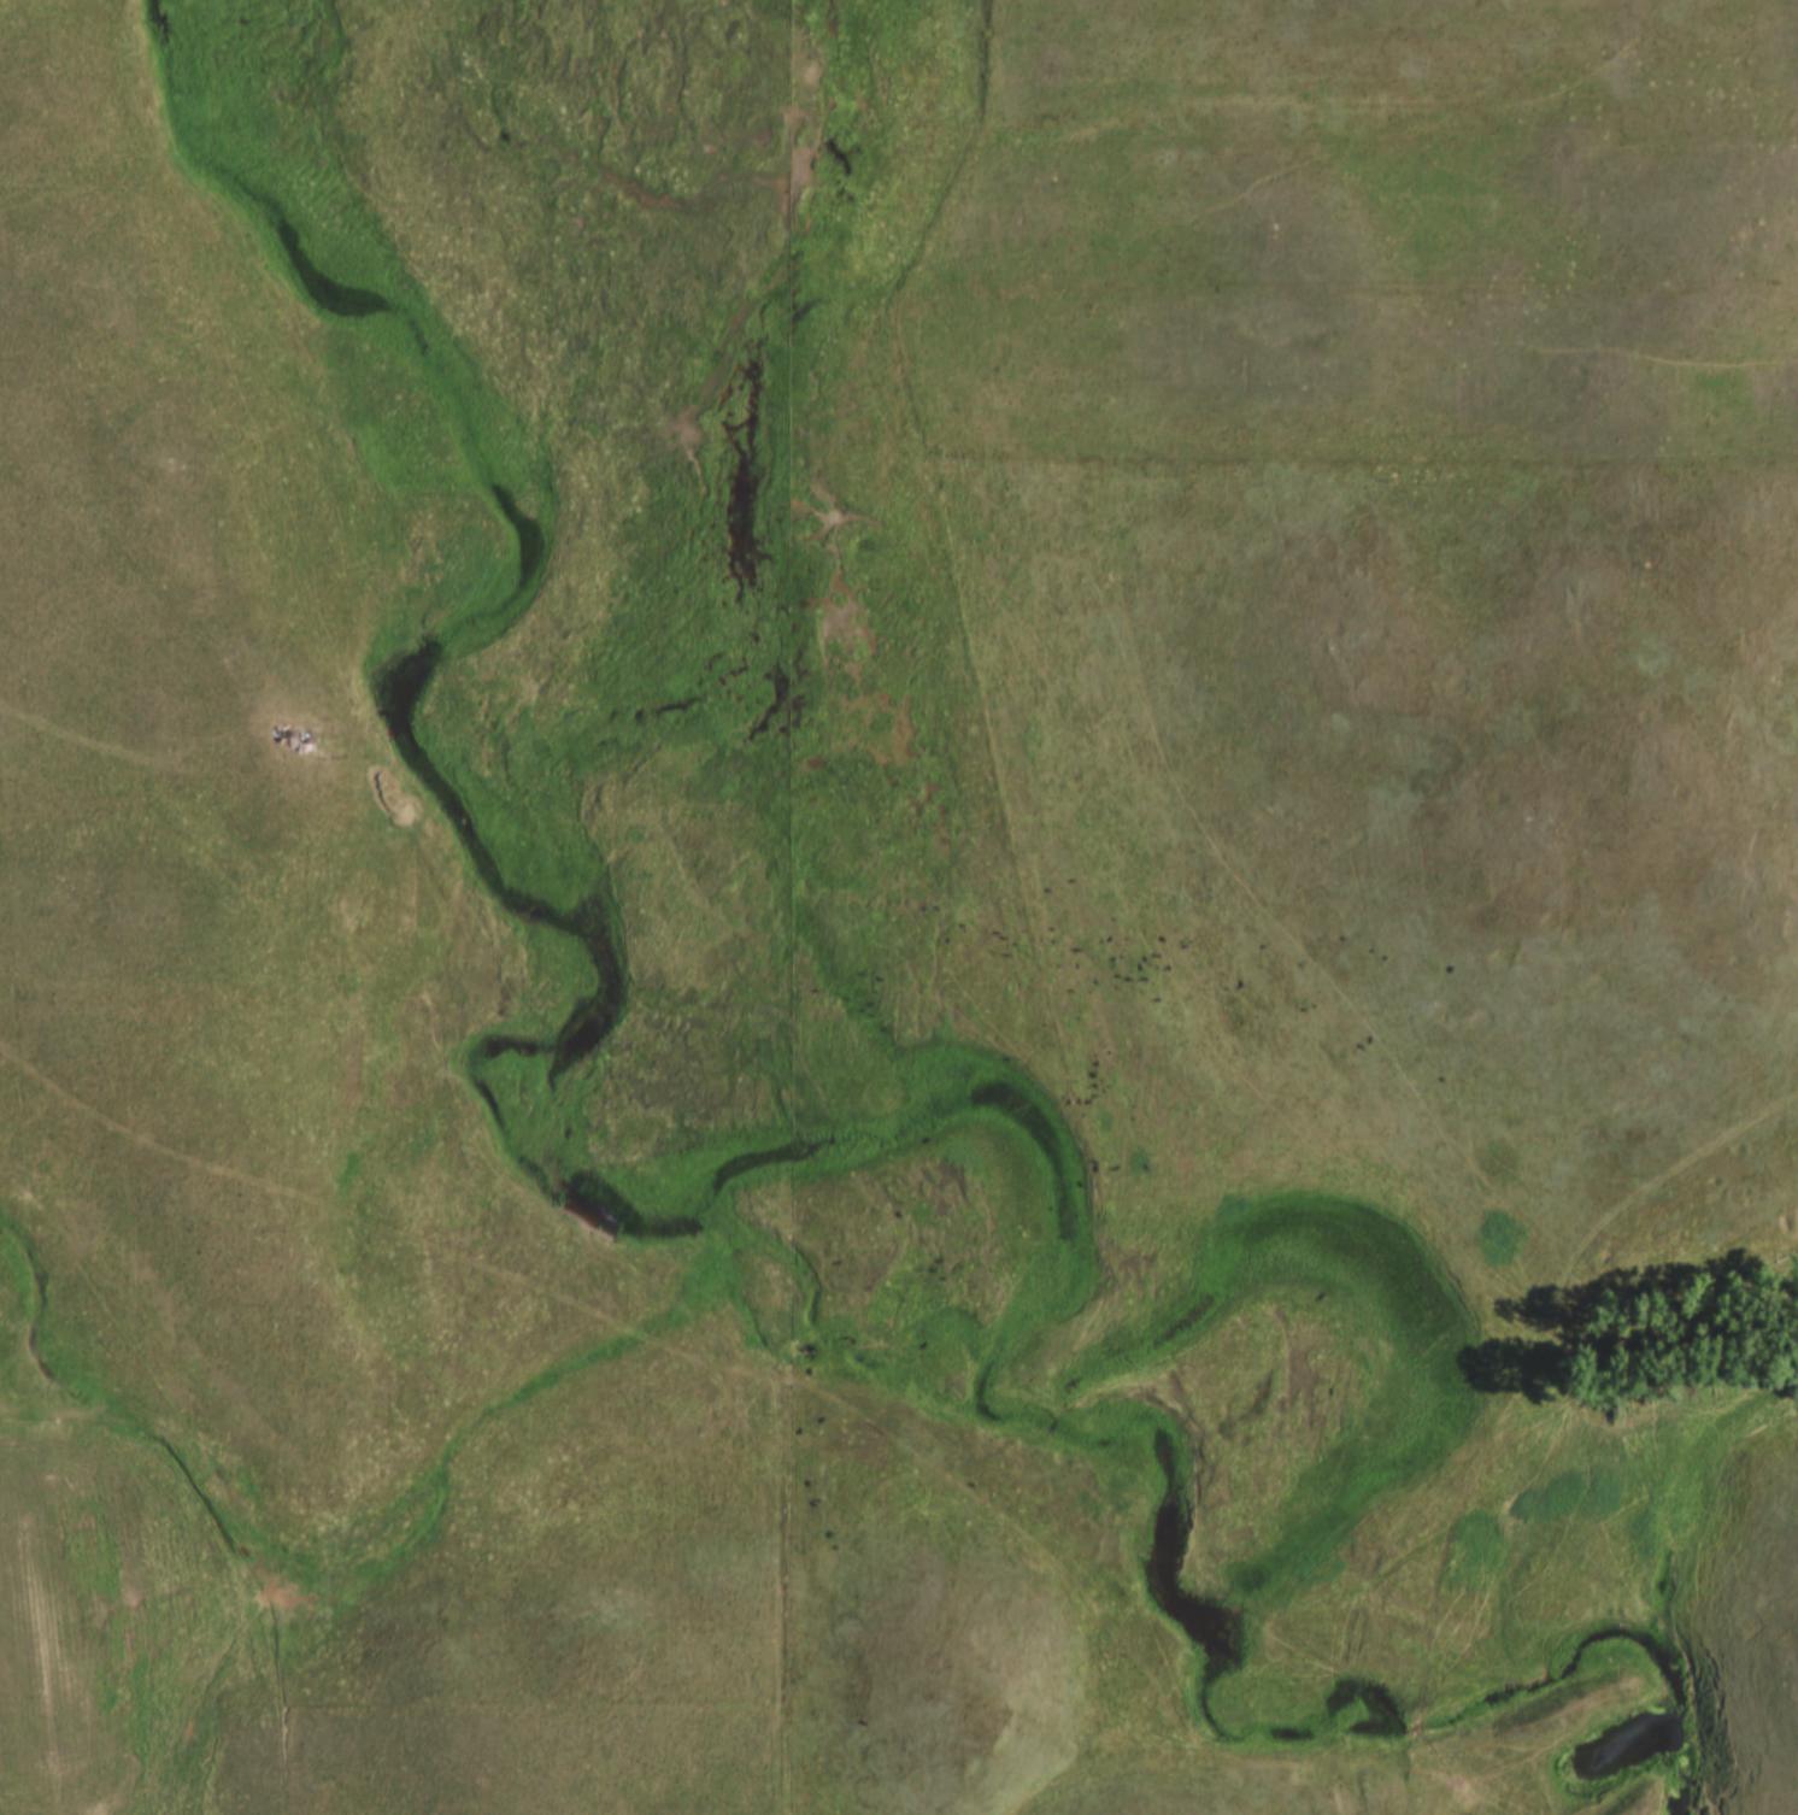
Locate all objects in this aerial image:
road: (49, 1475)
road: (129, 1797)

